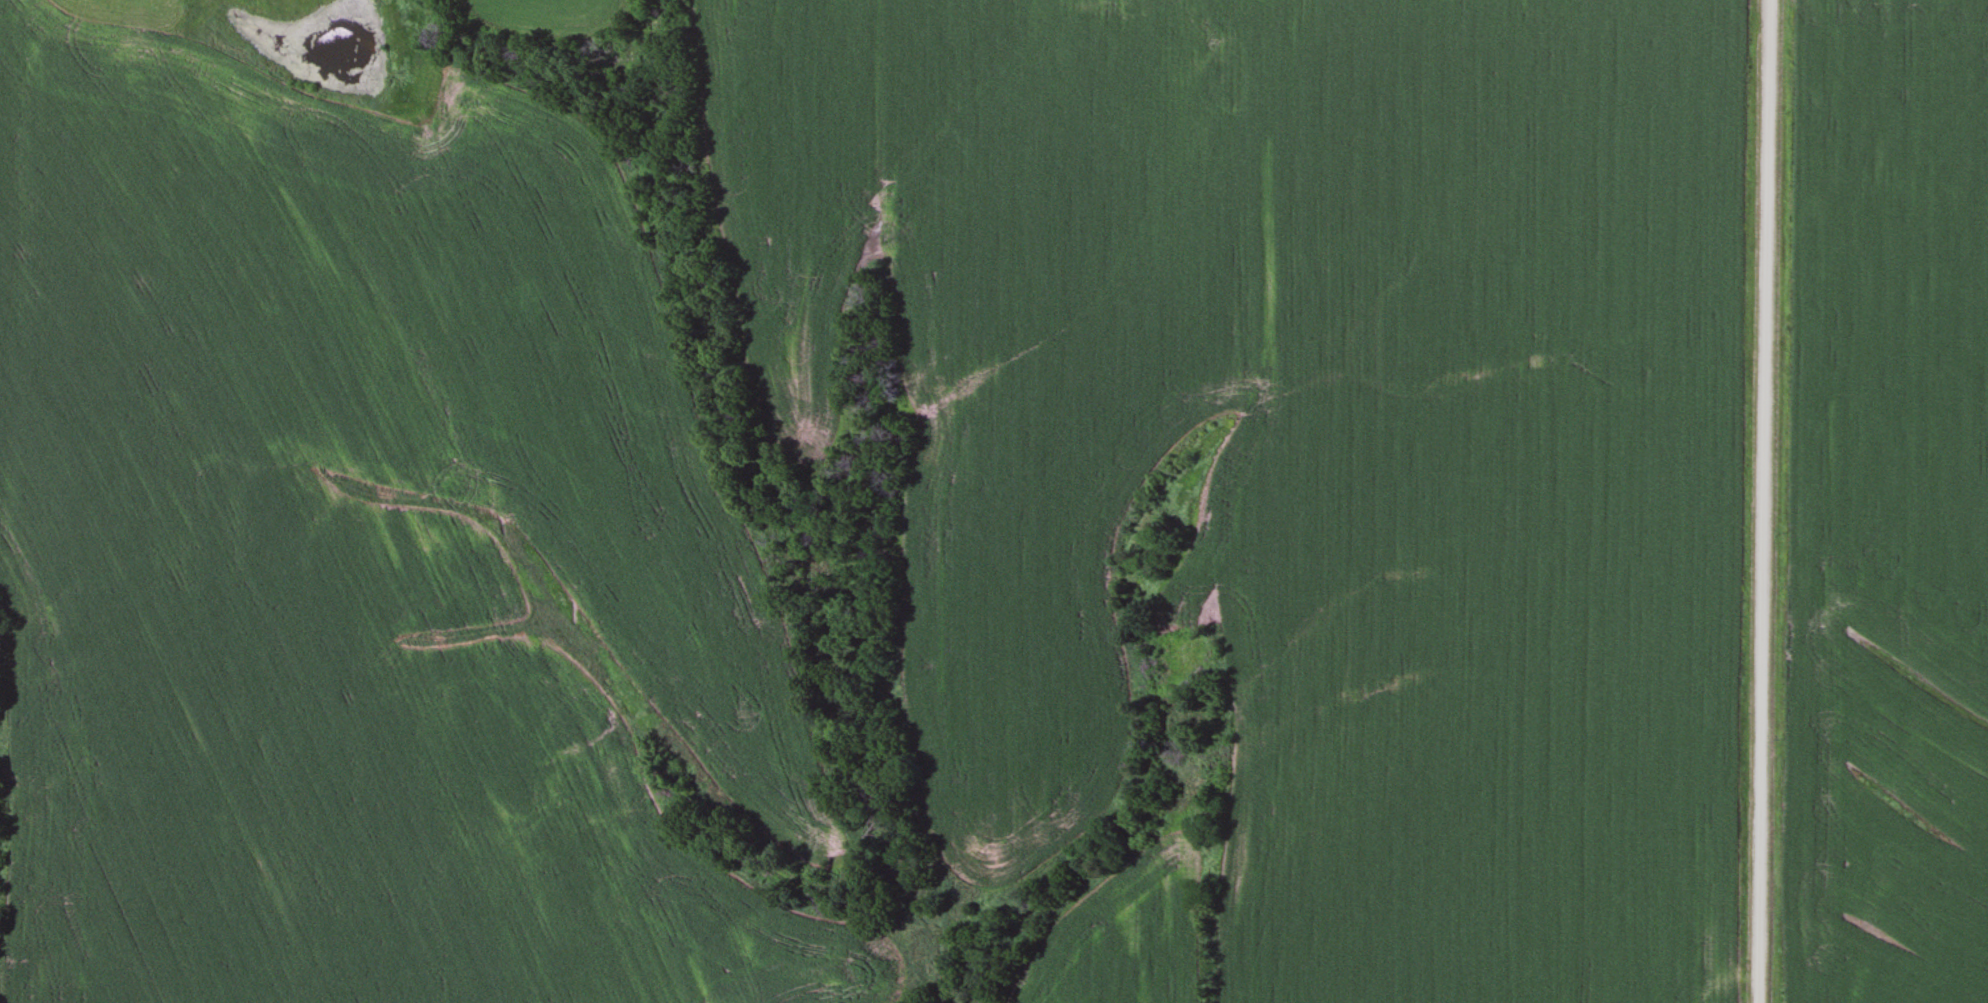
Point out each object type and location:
road: (1762, 501)

